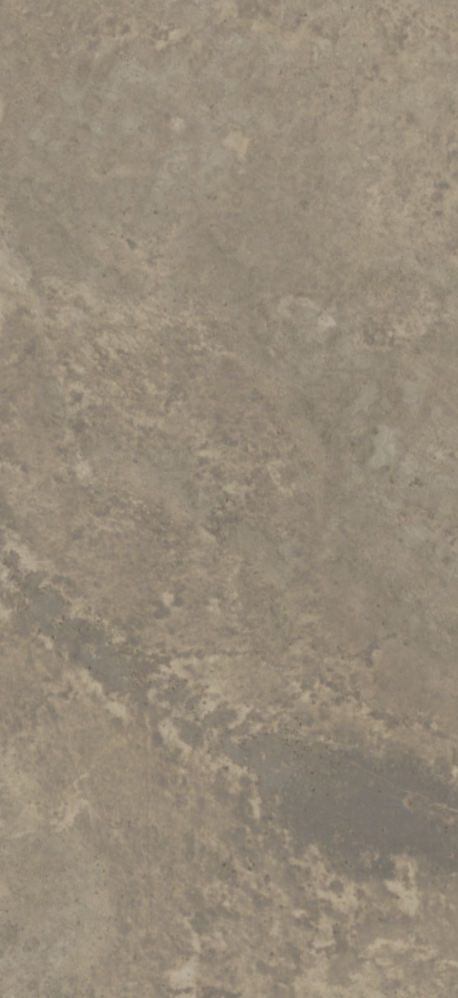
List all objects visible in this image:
road: (49, 954)

